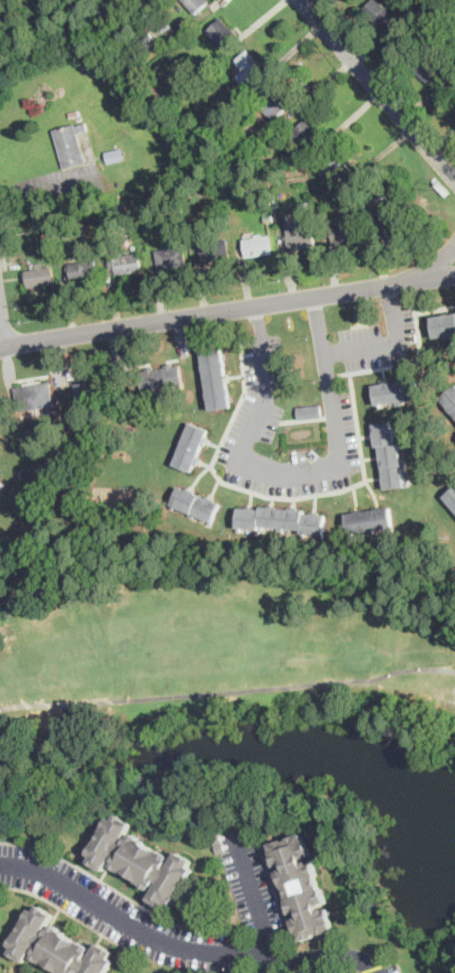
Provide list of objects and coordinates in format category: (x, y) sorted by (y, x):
building: (195, 4)
building: (377, 11)
building: (398, 16)
building: (101, 27)
building: (221, 32)
building: (147, 41)
power tower: (328, 54)
building: (249, 68)
building: (427, 68)
building: (206, 71)
road: (378, 89)
building: (276, 101)
building: (253, 132)
building: (308, 136)
building: (196, 138)
building: (70, 144)
building: (115, 155)
building: (338, 166)
power tower: (441, 187)
road: (49, 189)
building: (232, 190)
building: (335, 196)
building: (308, 204)
building: (100, 206)
building: (357, 212)
building: (116, 215)
building: (268, 218)
building: (388, 223)
building: (74, 233)
building: (345, 233)
building: (300, 235)
building: (48, 236)
building: (258, 246)
building: (214, 251)
building: (171, 257)
road: (434, 263)
building: (127, 264)
building: (82, 271)
building: (39, 276)
road: (433, 276)
building: (111, 281)
road: (391, 298)
road: (205, 313)
building: (358, 314)
road: (258, 318)
road: (319, 324)
building: (444, 325)
road: (3, 327)
building: (160, 377)
building: (217, 379)
building: (96, 390)
building: (397, 391)
building: (34, 396)
building: (450, 399)
building: (1, 403)
building: (310, 412)
building: (191, 447)
building: (390, 455)
road: (333, 467)
building: (0, 479)
building: (1, 483)
building: (451, 497)
building: (195, 504)
building: (280, 519)
building: (368, 520)
park: (208, 645)
building: (141, 861)
building: (302, 886)
road: (257, 901)
road: (181, 945)
building: (58, 946)
road: (376, 970)

